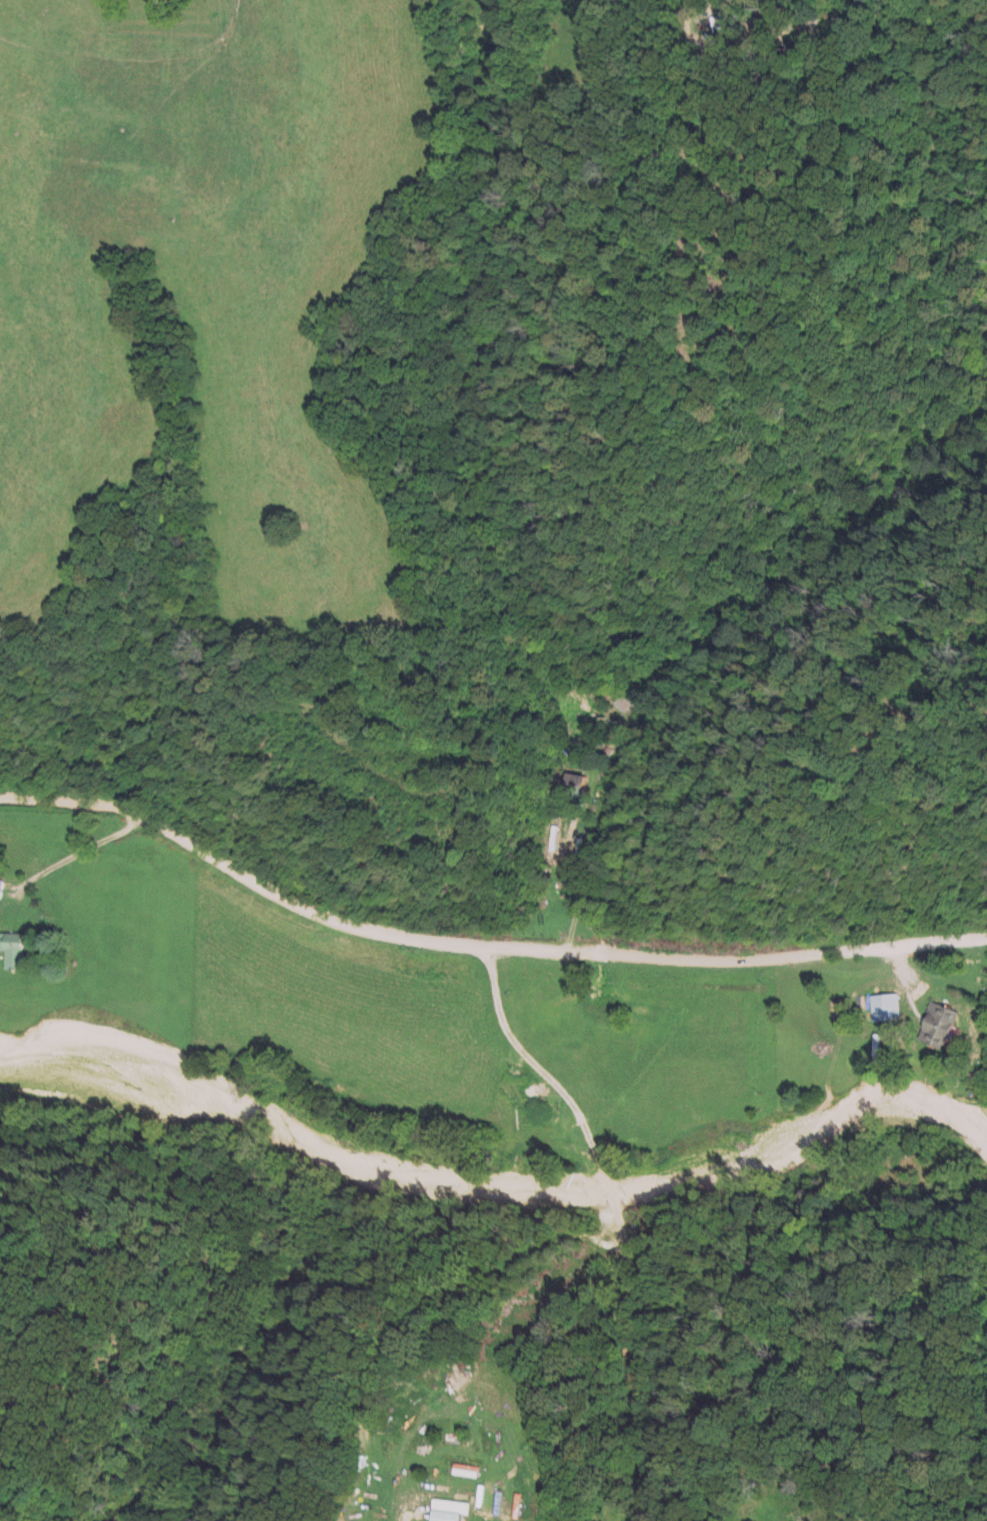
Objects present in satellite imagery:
building: (568, 784)
road: (76, 850)
road: (477, 946)
building: (8, 949)
building: (930, 1024)
building: (459, 1469)

